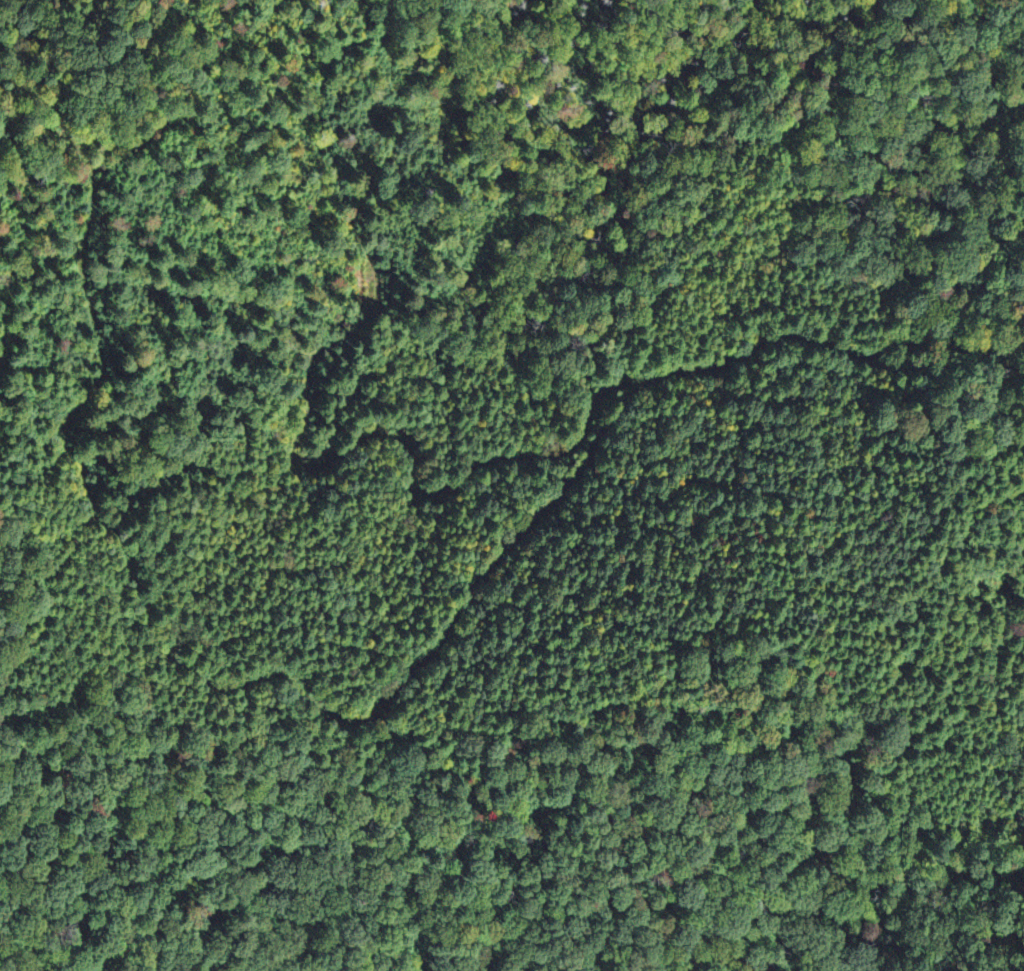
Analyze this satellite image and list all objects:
road: (157, 88)
road: (38, 98)
road: (54, 184)
road: (839, 348)
road: (296, 435)
road: (212, 680)

